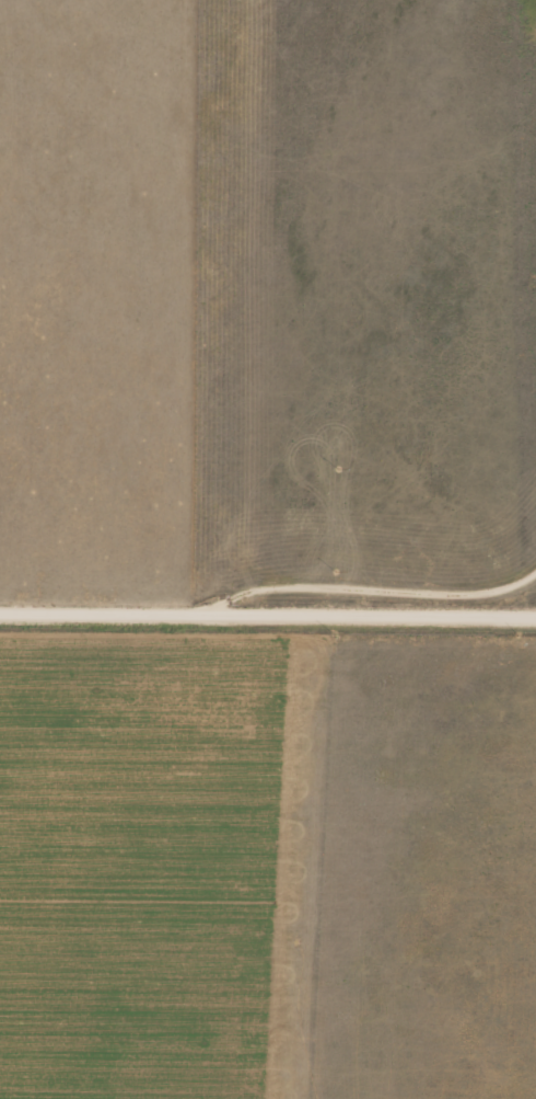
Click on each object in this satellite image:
road: (351, 560)
road: (533, 609)
road: (268, 613)

